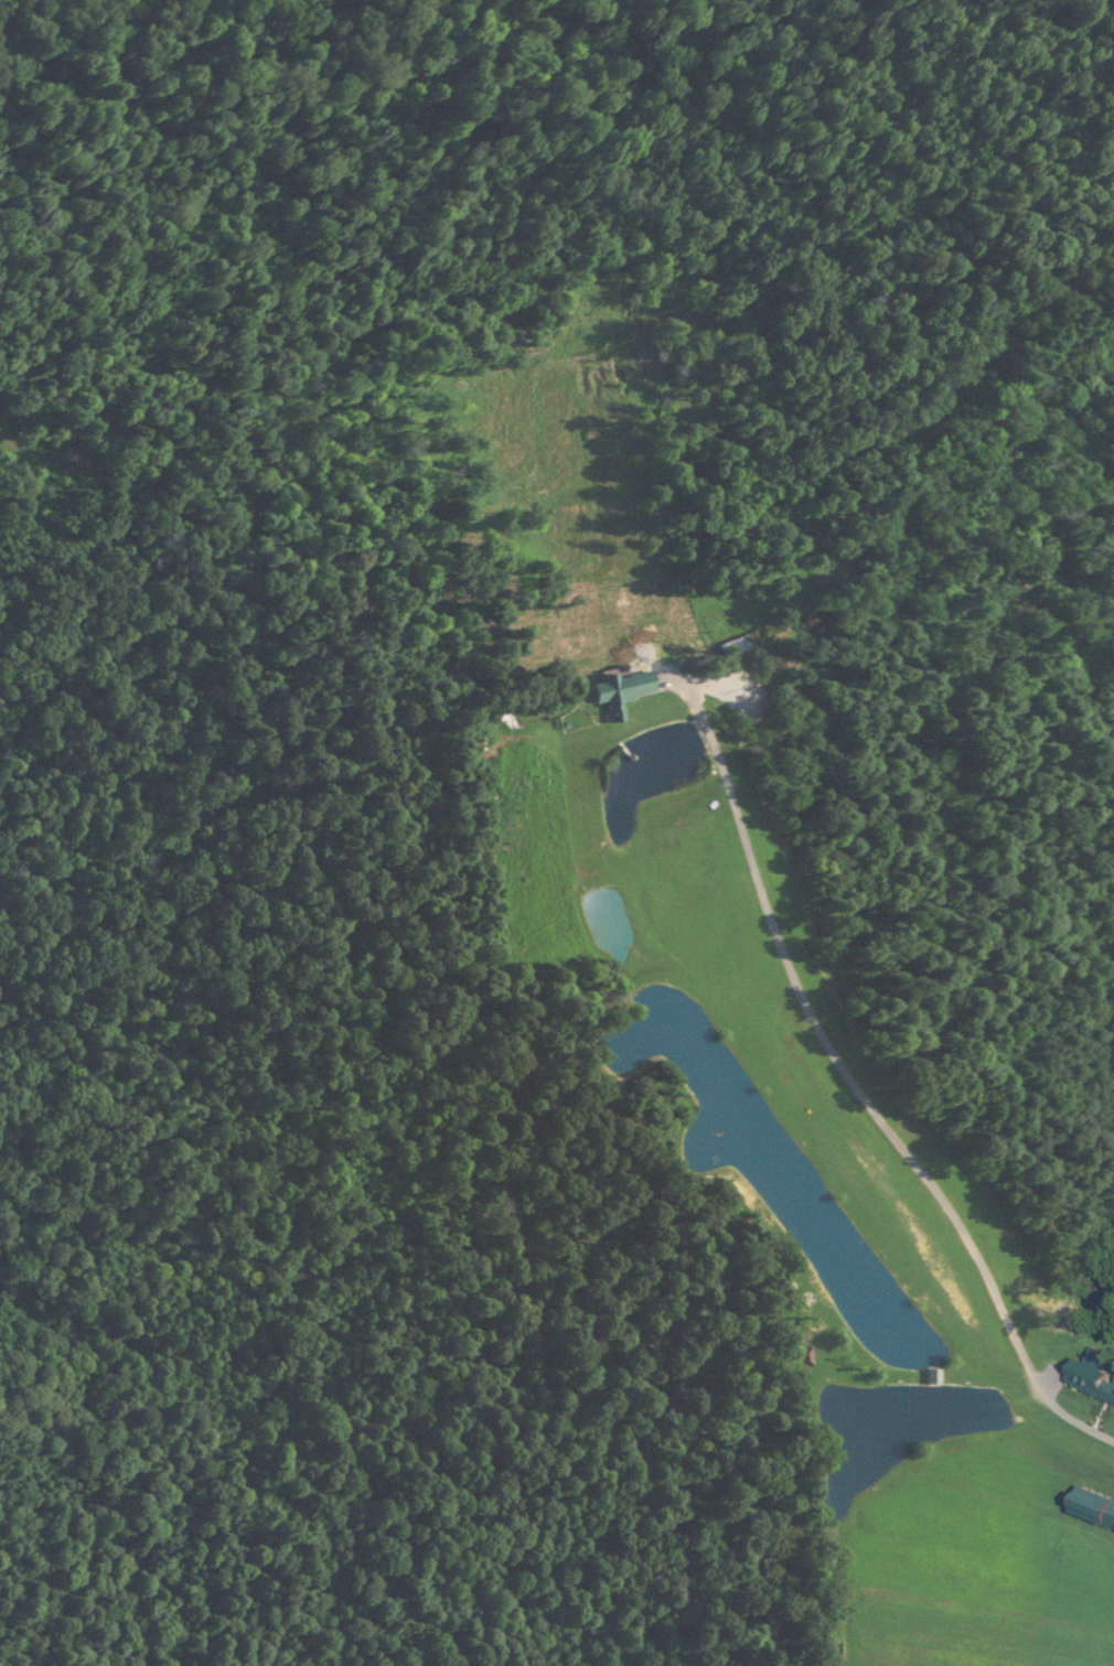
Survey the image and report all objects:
building: (728, 647)
building: (613, 690)
road: (855, 1092)

